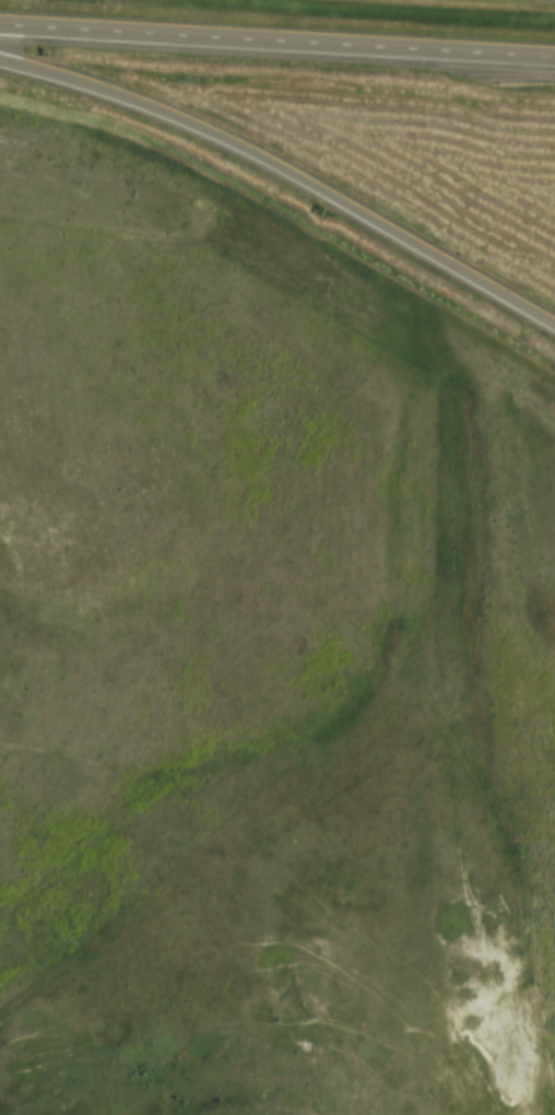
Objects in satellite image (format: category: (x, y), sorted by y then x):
road: (276, 50)
road: (286, 181)

